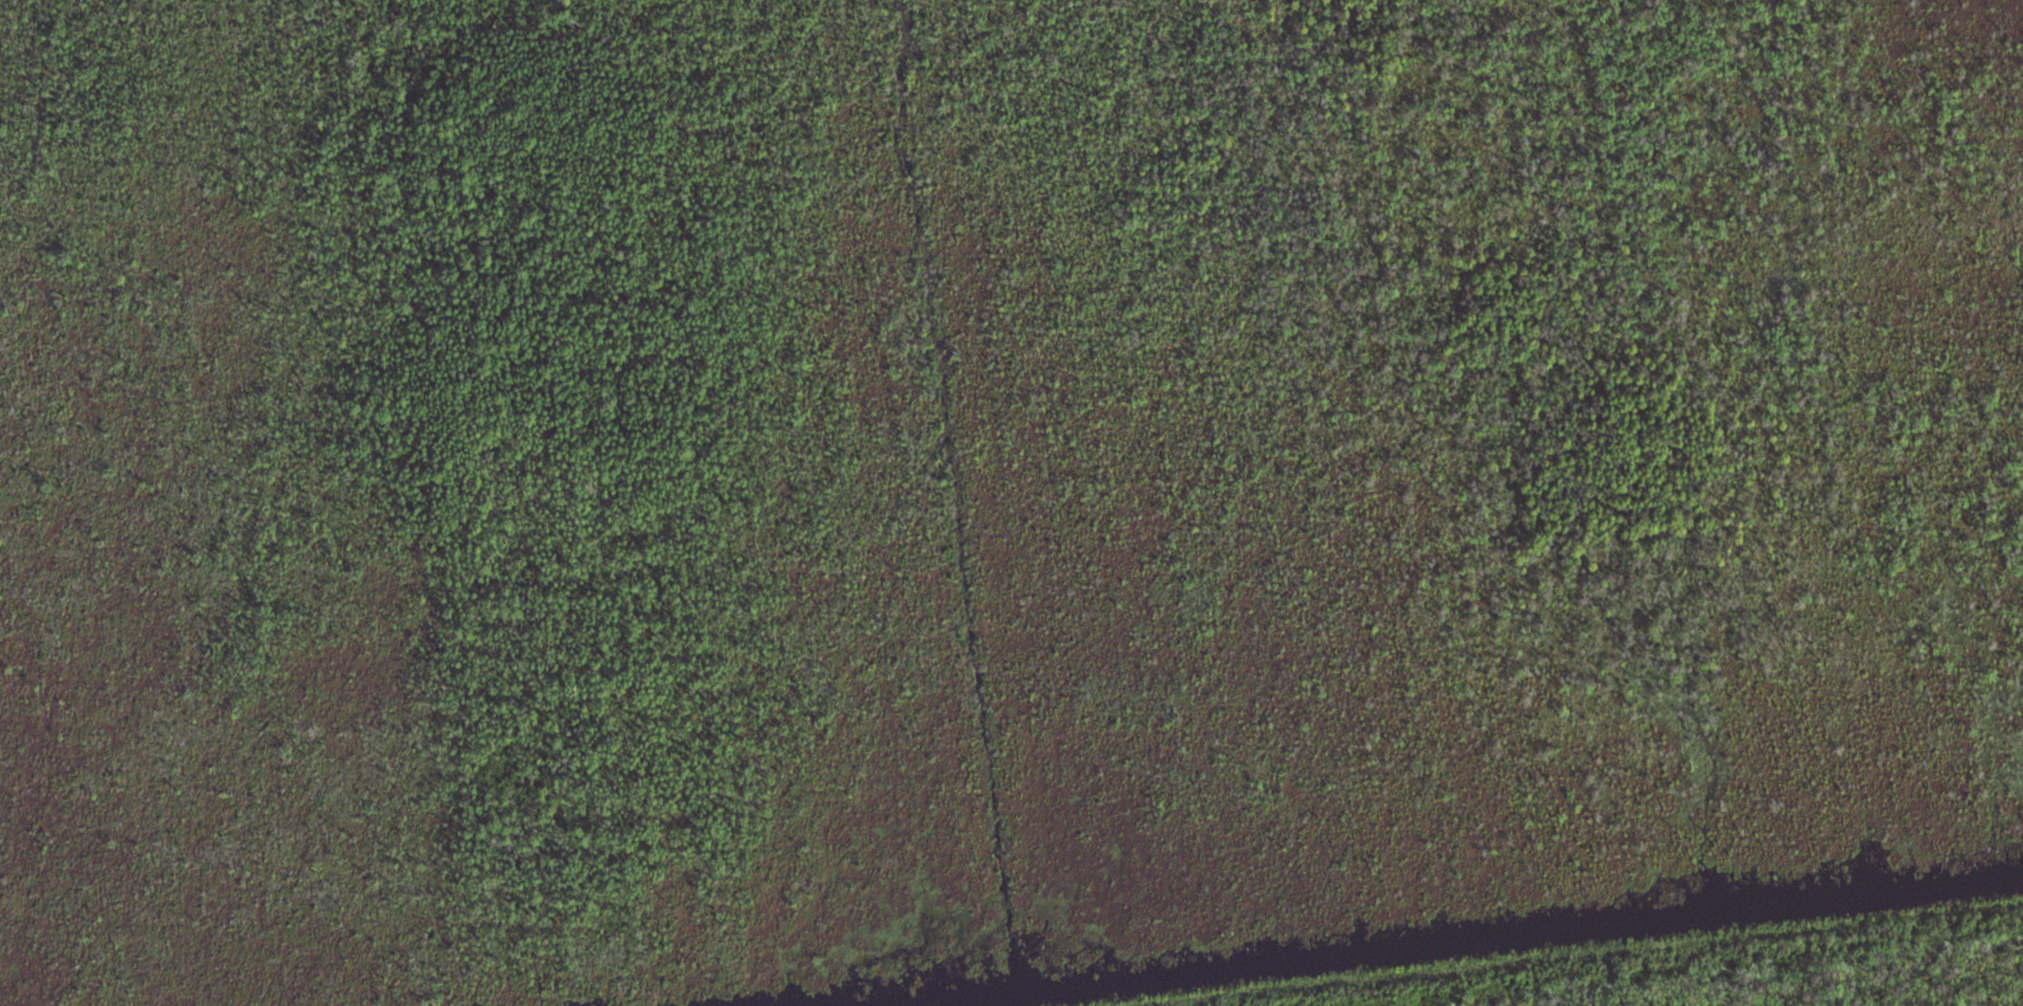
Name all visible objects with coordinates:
road: (1606, 957)

